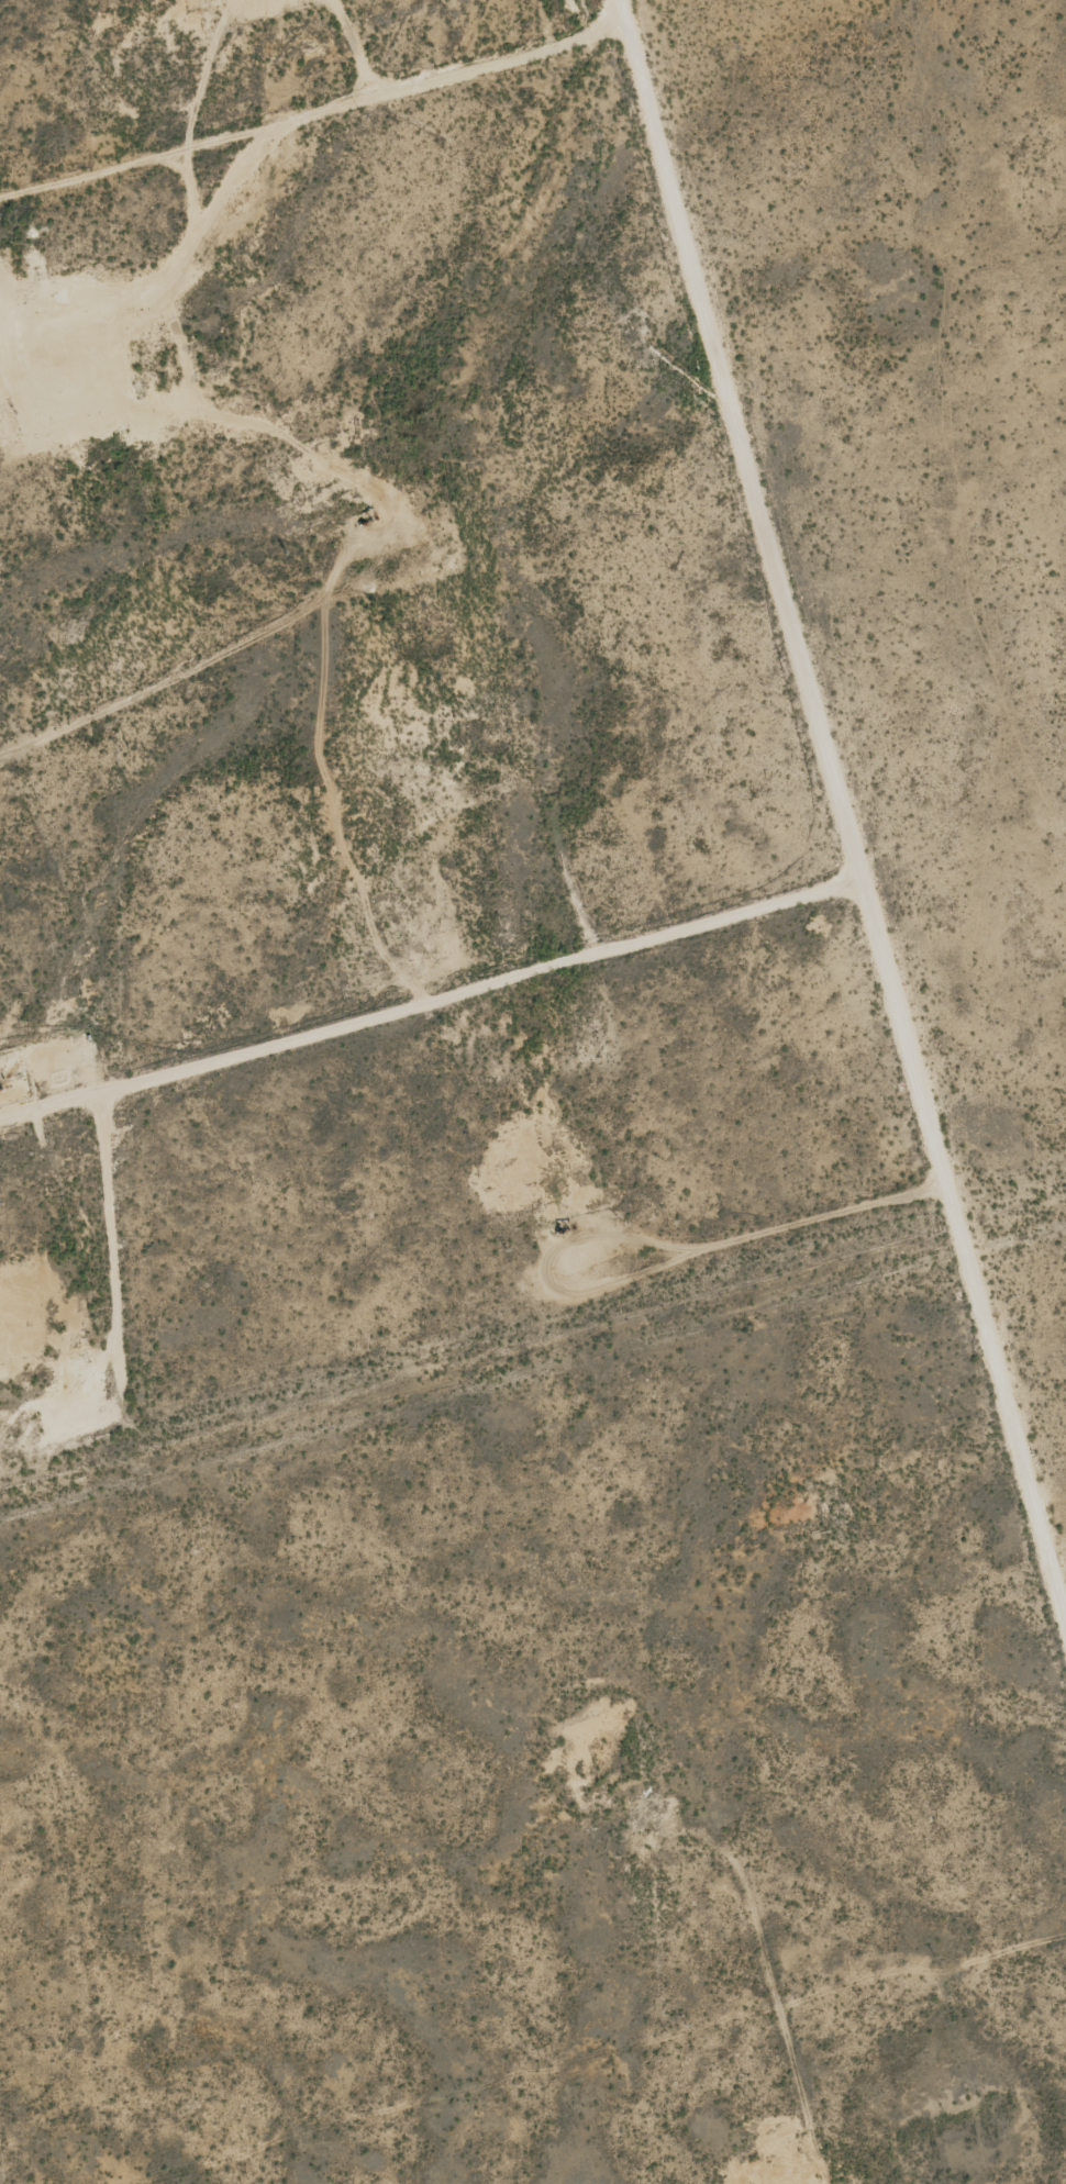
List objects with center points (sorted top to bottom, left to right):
road: (284, 159)
road: (785, 860)
road: (406, 1074)
road: (760, 2029)

